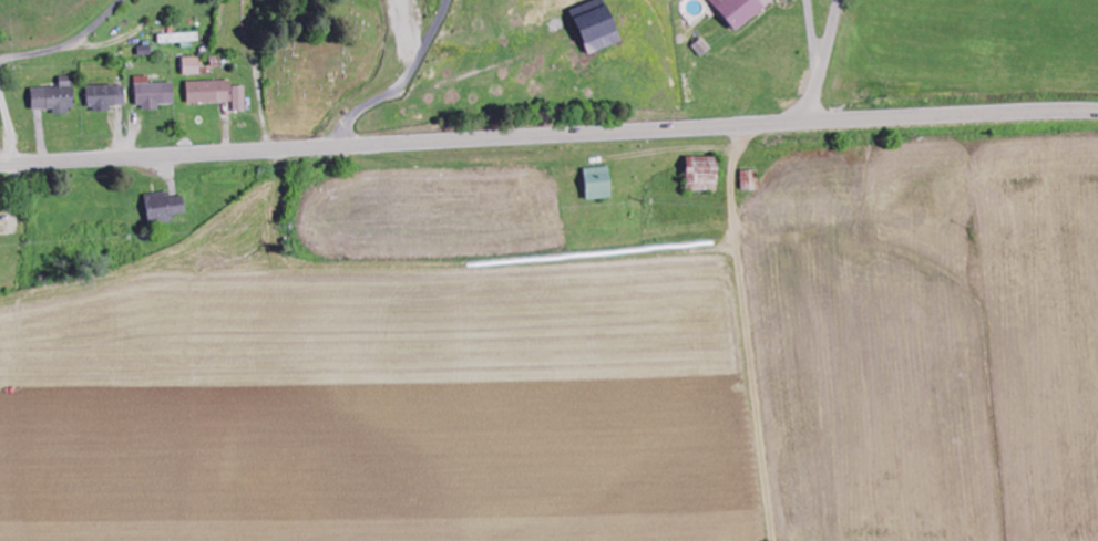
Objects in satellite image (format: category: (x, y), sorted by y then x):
building: (741, 10)
building: (596, 25)
building: (181, 38)
road: (62, 46)
building: (702, 46)
building: (146, 49)
park: (308, 50)
road: (824, 63)
building: (193, 65)
building: (155, 93)
building: (218, 93)
building: (58, 95)
building: (107, 96)
road: (10, 128)
road: (548, 136)
building: (704, 173)
building: (752, 179)
building: (599, 183)
building: (165, 207)

